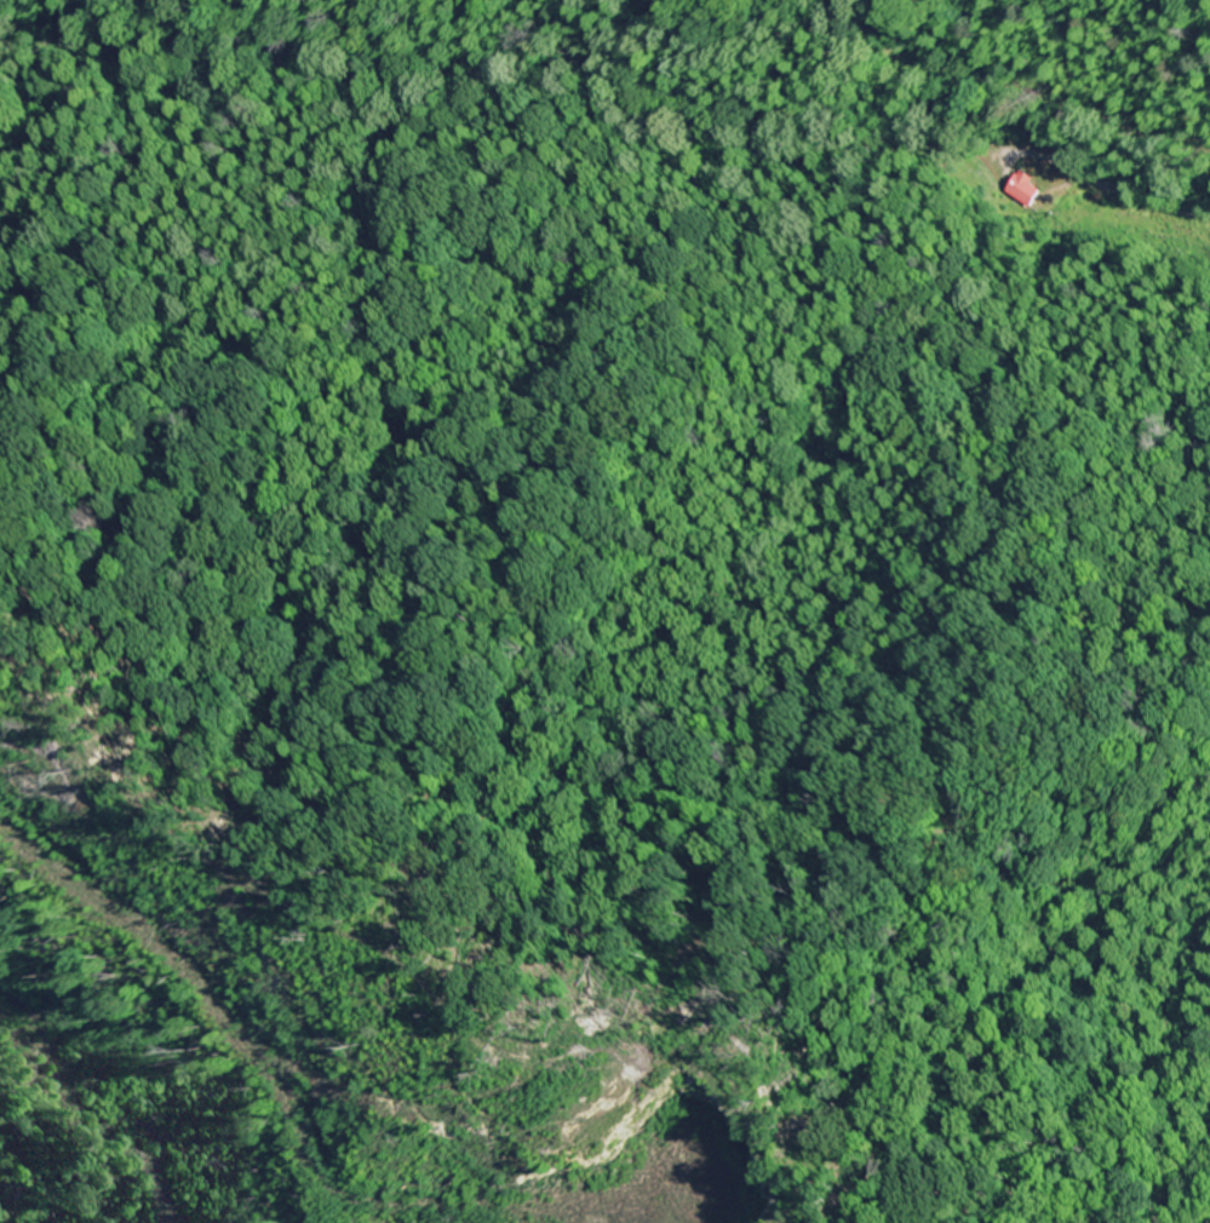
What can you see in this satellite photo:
road: (1103, 185)
building: (1023, 190)

